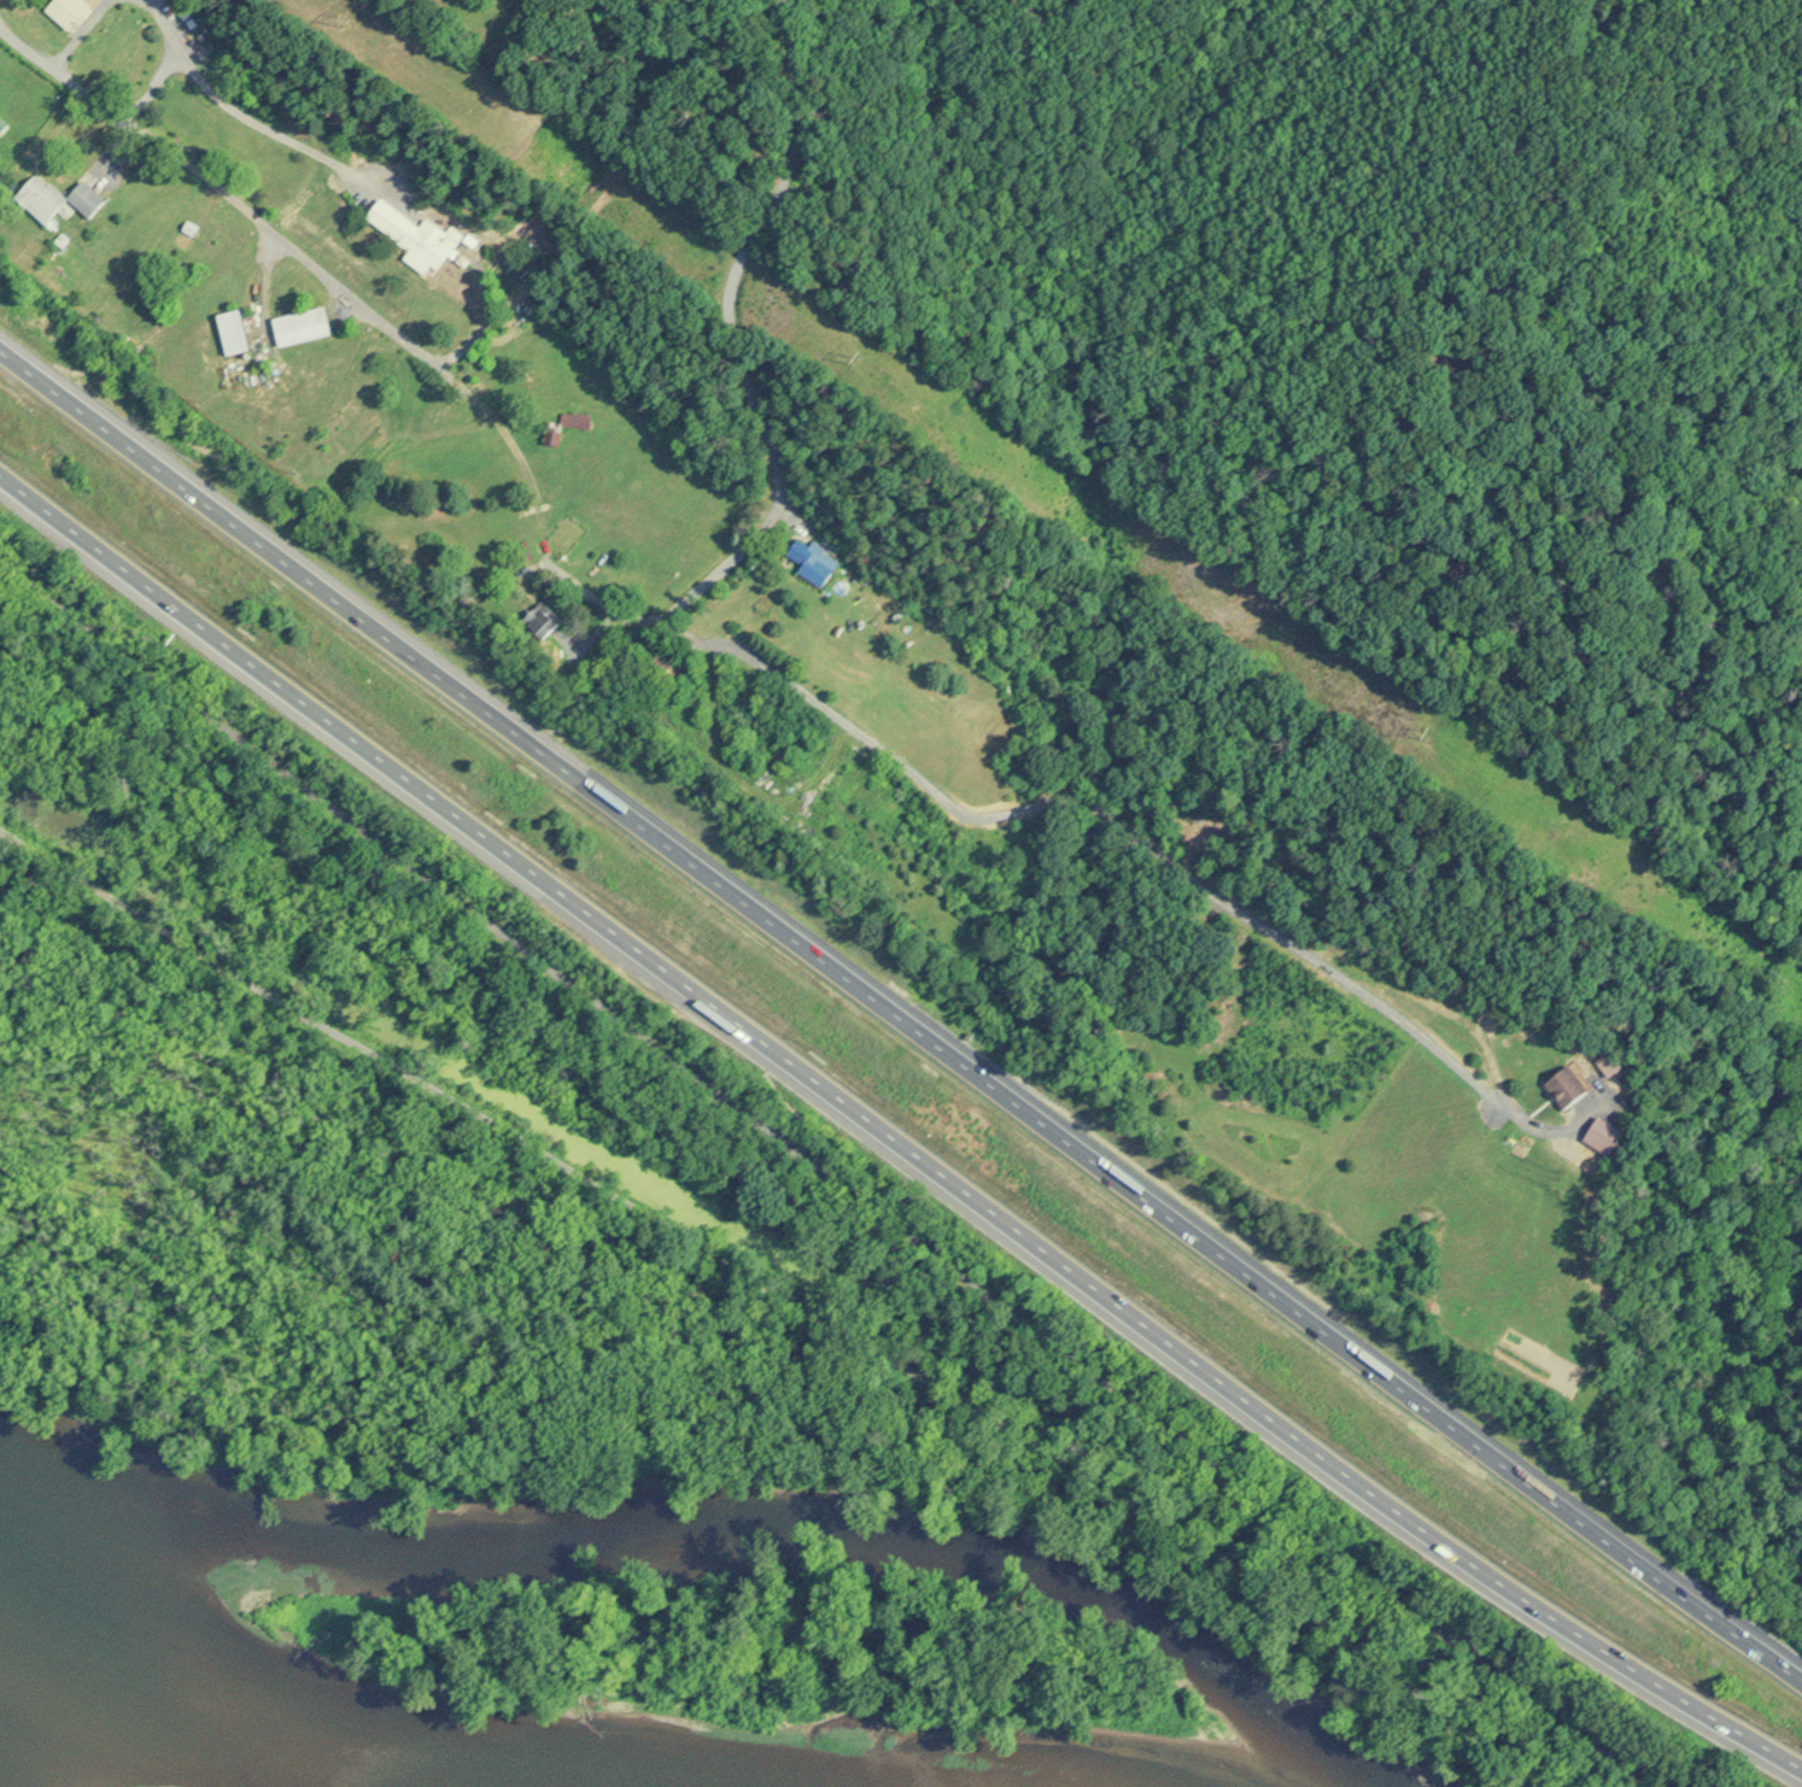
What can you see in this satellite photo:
building: (62, 11)
road: (80, 33)
road: (153, 86)
road: (254, 125)
building: (49, 198)
building: (408, 236)
building: (296, 327)
building: (227, 332)
building: (572, 420)
building: (807, 561)
road: (563, 578)
building: (533, 621)
road: (1140, 838)
road: (900, 1018)
building: (1562, 1085)
park: (710, 1105)
road: (890, 1136)
building: (1595, 1137)
road: (827, 1174)
road: (777, 1295)
river: (273, 1752)

